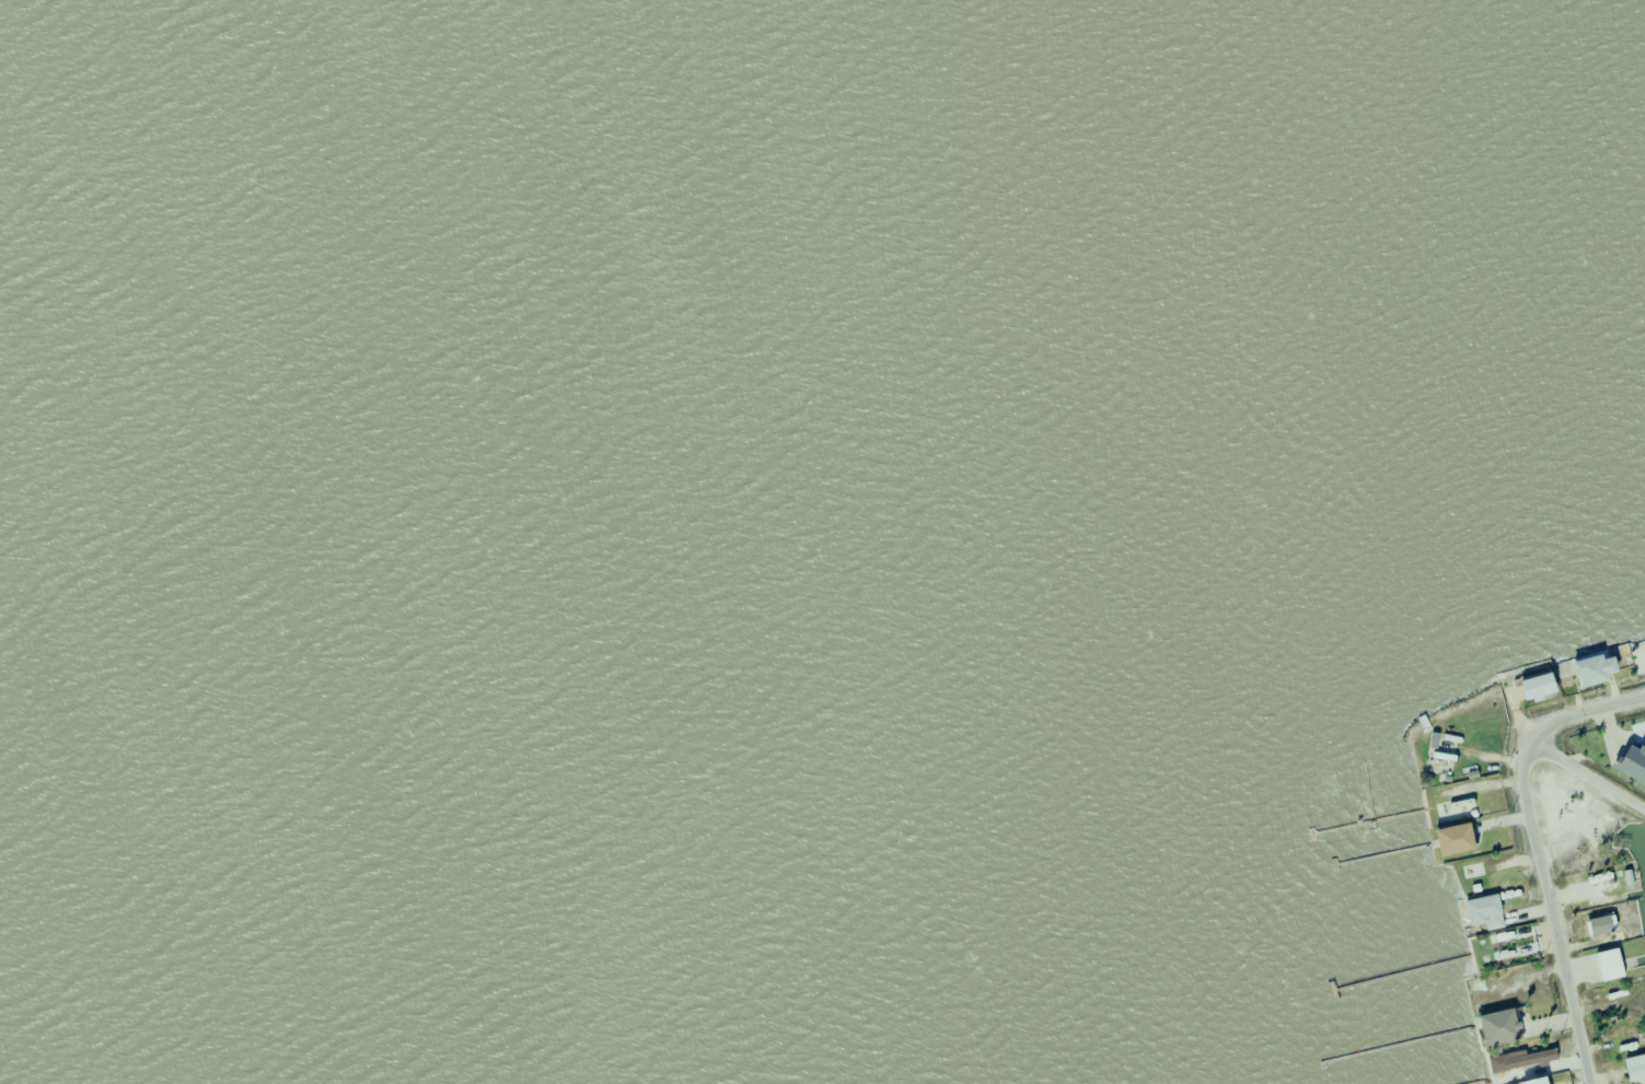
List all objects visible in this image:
building: (1642, 733)
road: (1586, 776)
building: (1463, 809)
building: (1586, 824)
building: (1466, 840)
road: (1531, 850)
building: (1584, 864)
building: (1492, 910)
building: (1605, 926)
building: (1627, 994)
building: (1506, 1027)
building: (1631, 1044)
building: (1537, 1058)
building: (1636, 1066)

